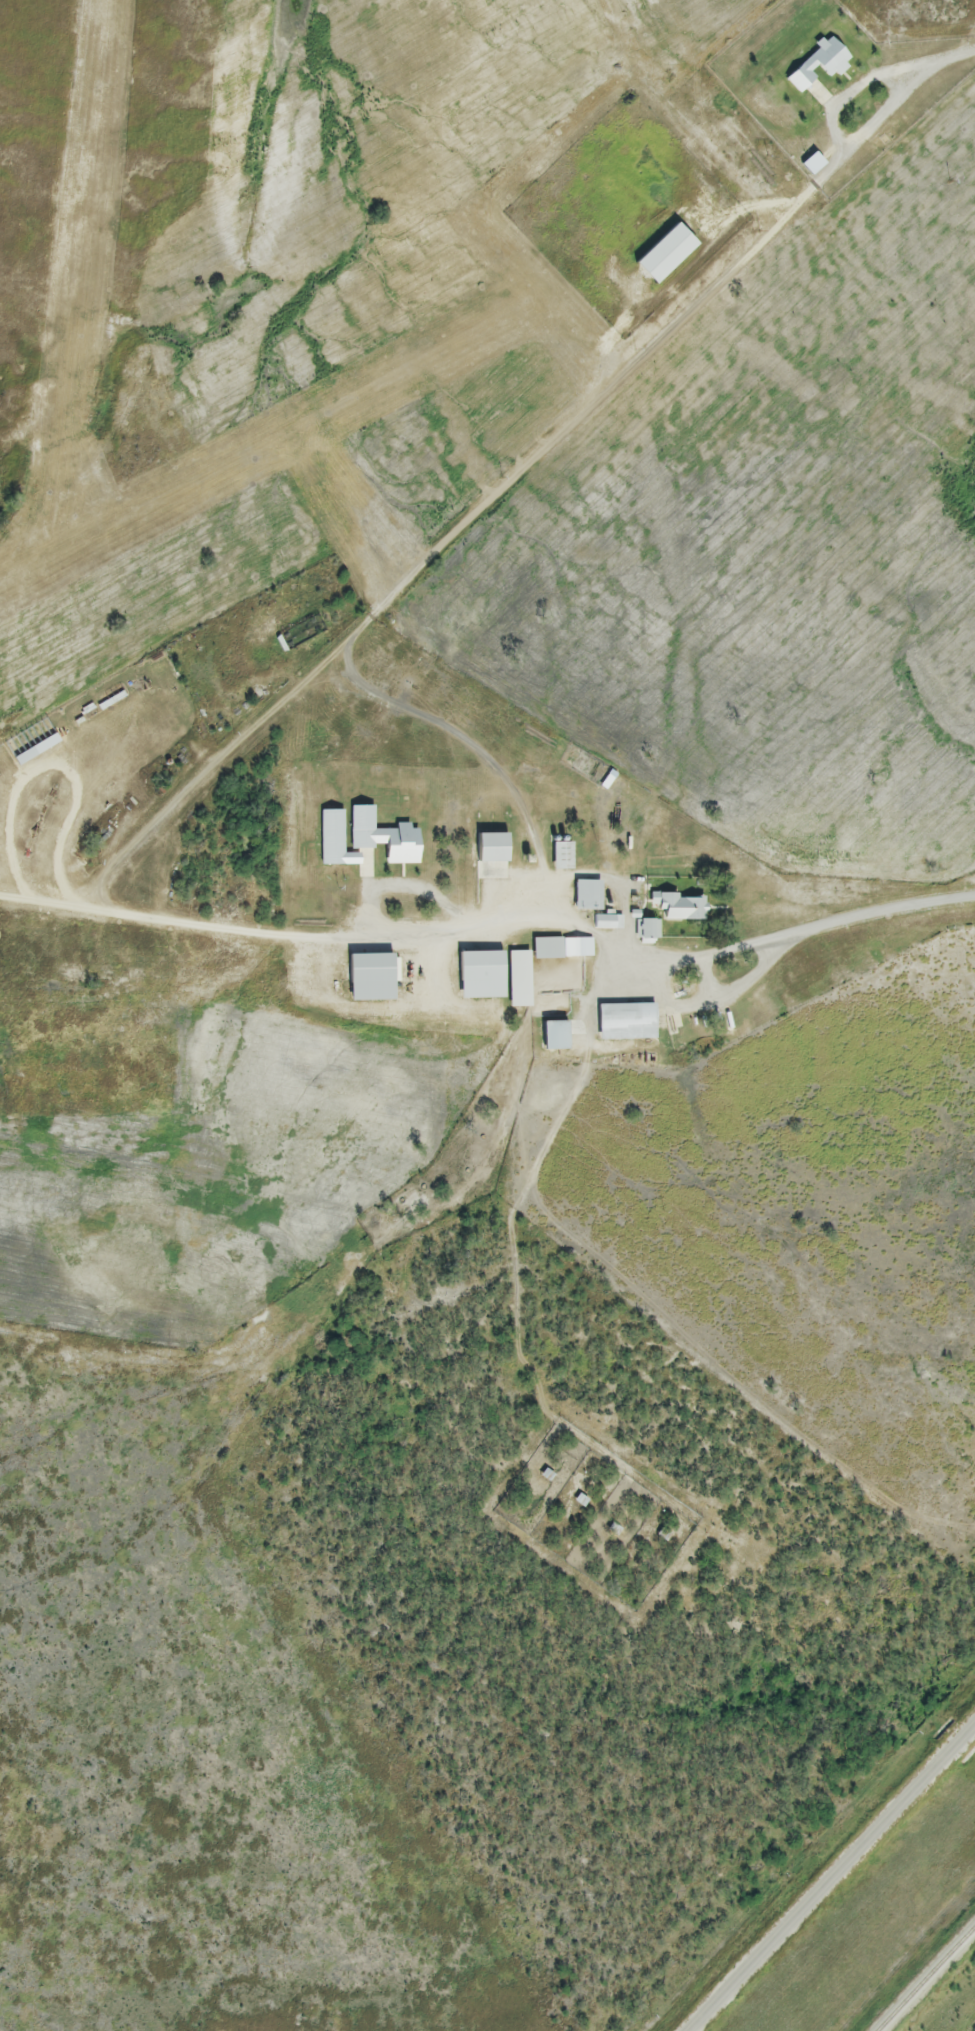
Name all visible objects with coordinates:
road: (955, 57)
road: (836, 134)
building: (663, 255)
road: (435, 557)
building: (490, 857)
building: (561, 857)
building: (677, 908)
building: (607, 923)
road: (522, 925)
building: (647, 933)
building: (561, 949)
building: (479, 976)
building: (518, 980)
building: (562, 980)
building: (623, 1022)
building: (553, 1037)
road: (831, 1876)
railway: (925, 1976)

